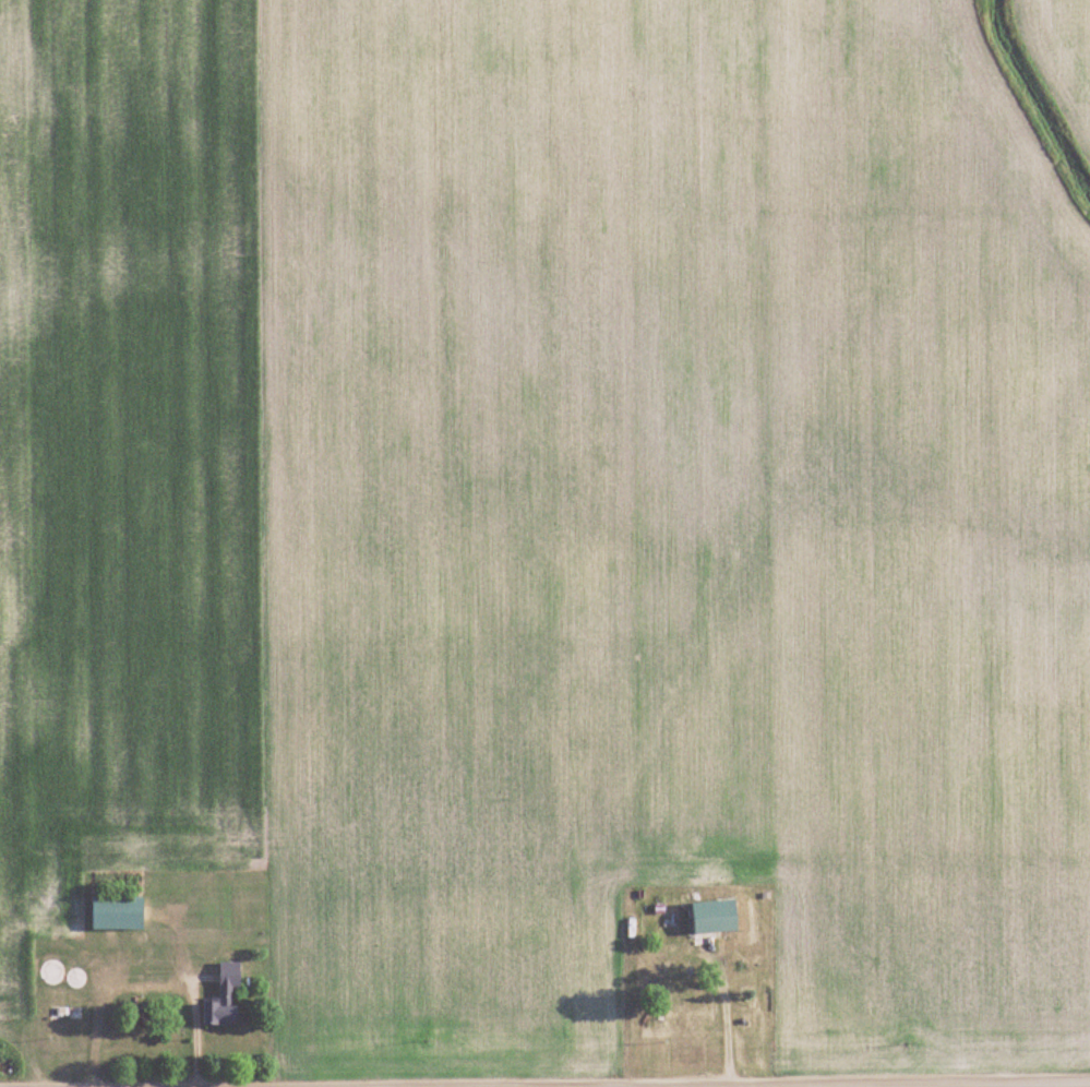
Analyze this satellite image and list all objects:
building: (117, 915)
building: (715, 917)
building: (53, 972)
building: (76, 978)
building: (224, 999)
building: (683, 1005)
road: (985, 1086)

